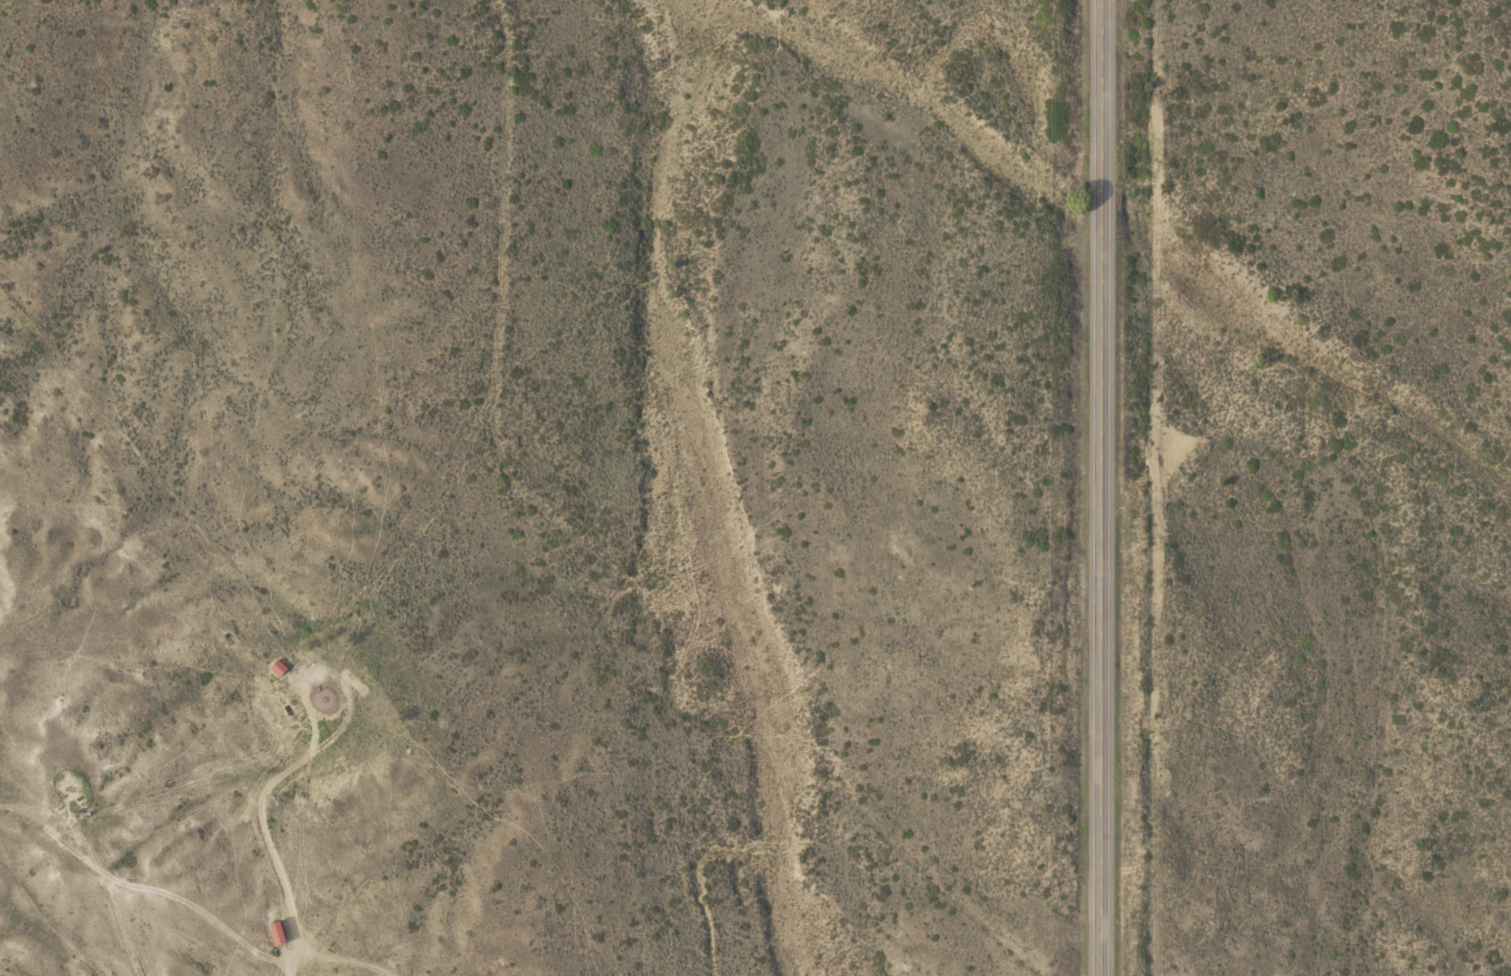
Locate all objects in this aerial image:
road: (1114, 488)

